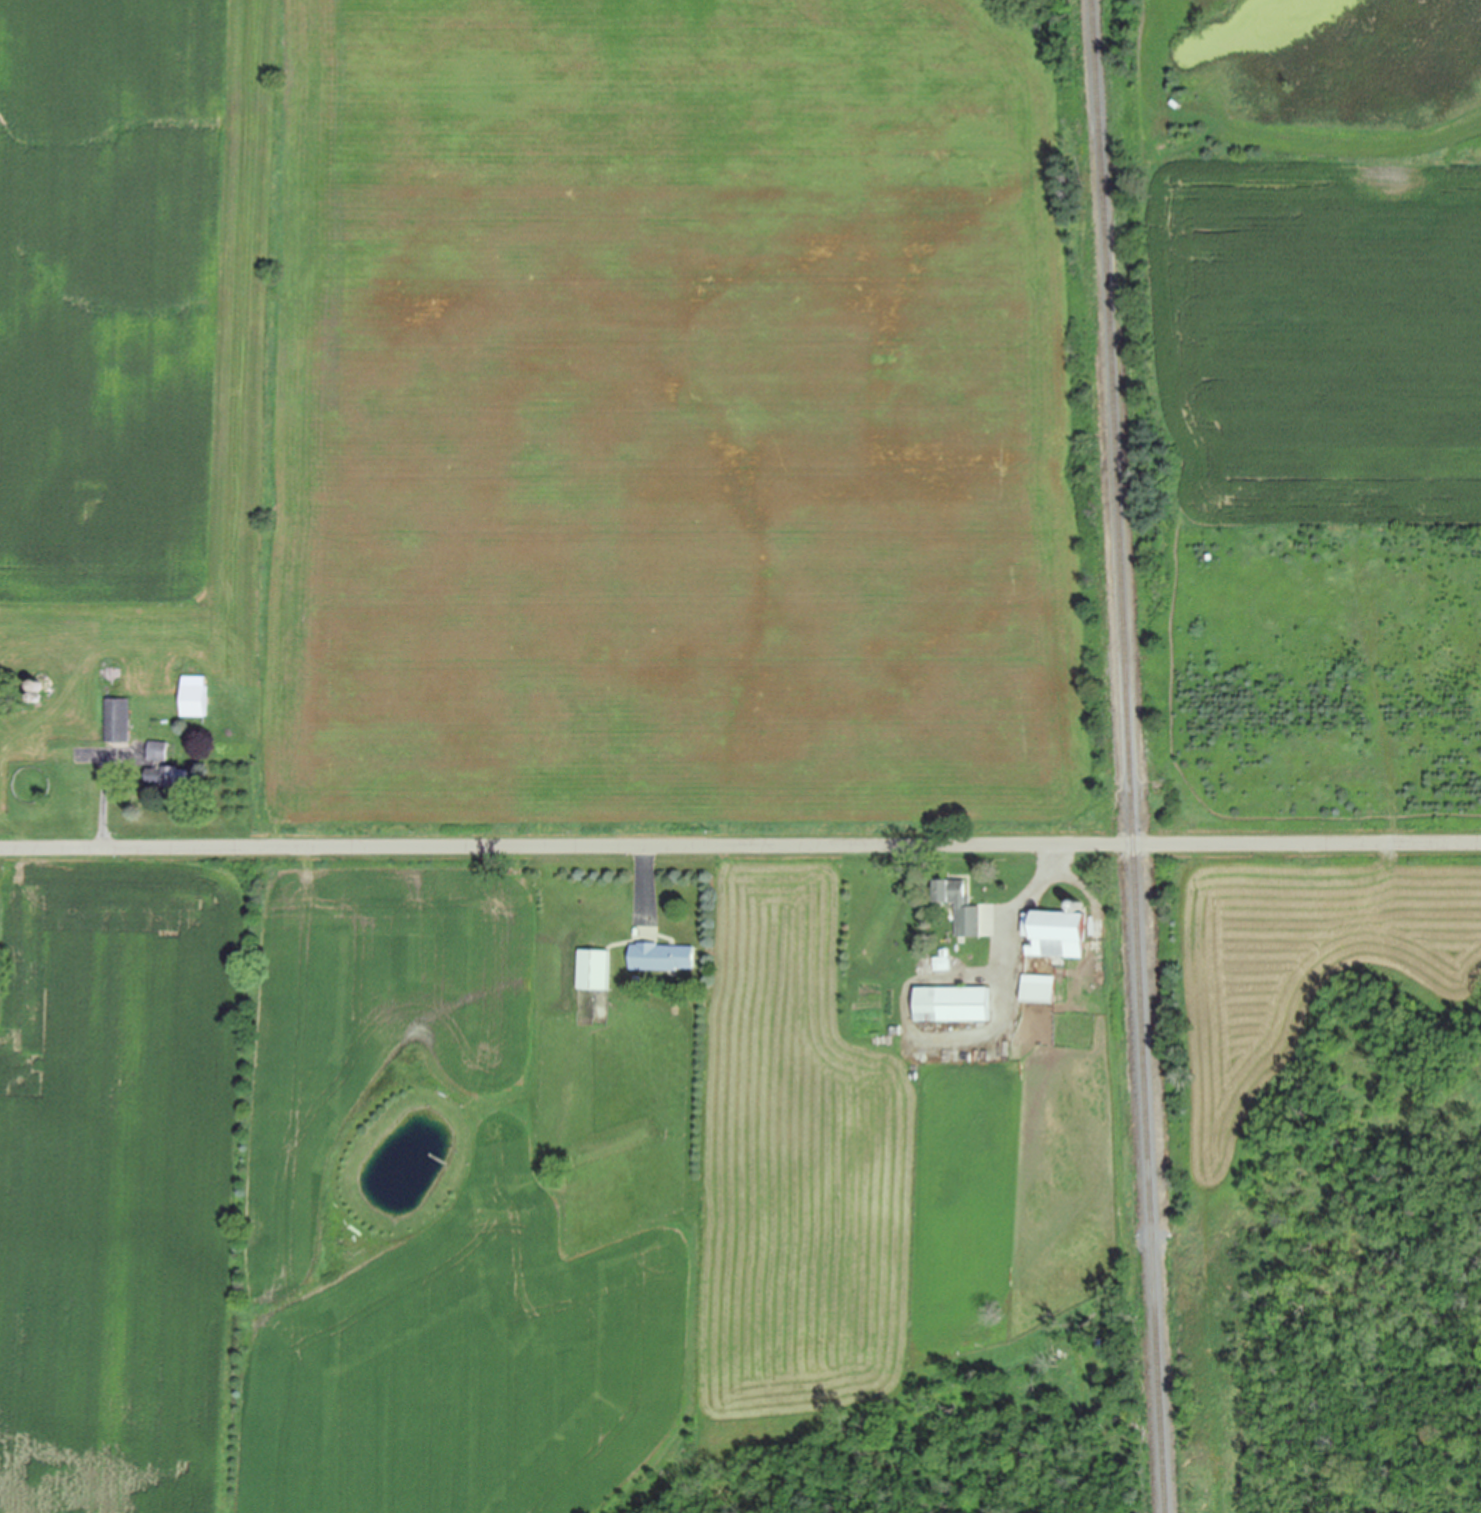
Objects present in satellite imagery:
building: (39, 681)
building: (38, 694)
building: (196, 695)
building: (63, 710)
building: (119, 716)
railway: (1121, 756)
building: (167, 762)
road: (106, 787)
road: (740, 841)
building: (960, 903)
road: (1017, 913)
building: (1058, 928)
building: (663, 953)
building: (943, 958)
building: (595, 965)
building: (1040, 988)
building: (954, 1000)
building: (896, 1028)
building: (1119, 1360)

